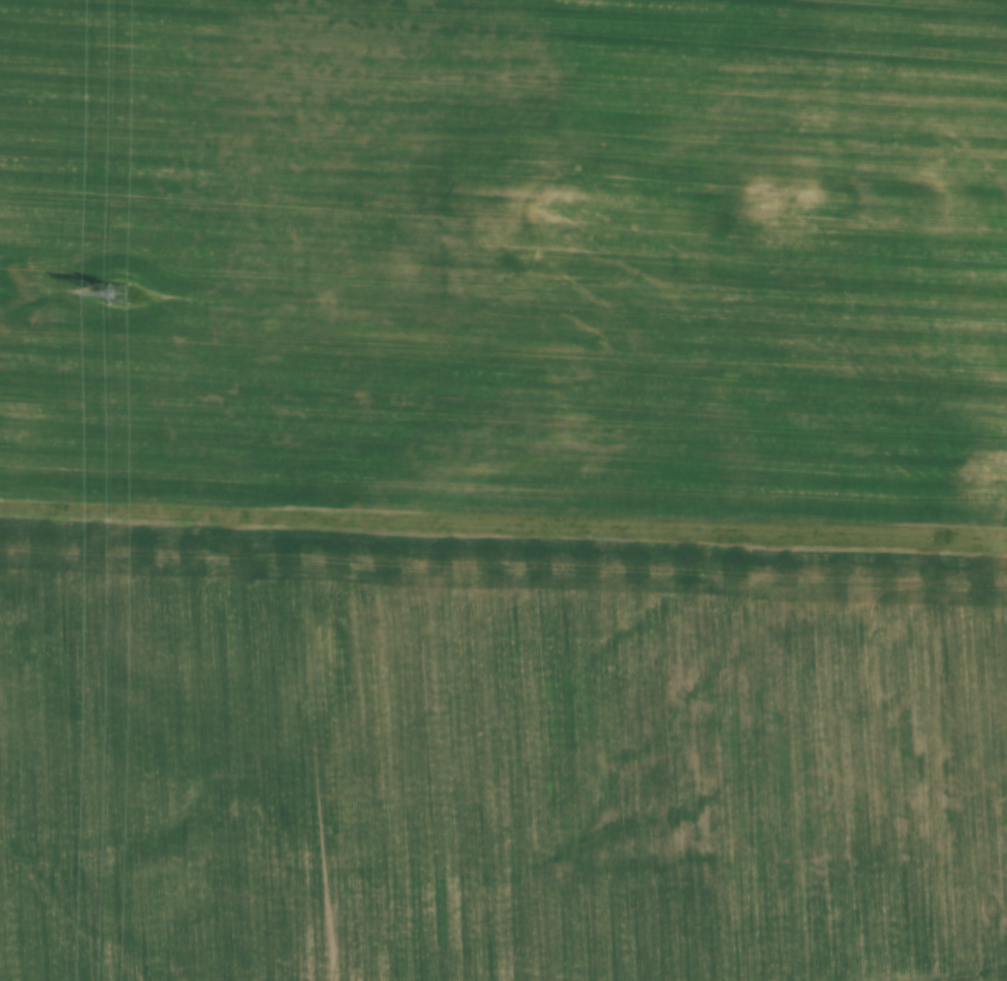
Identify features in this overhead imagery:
power tower: (117, 292)
road: (503, 549)

